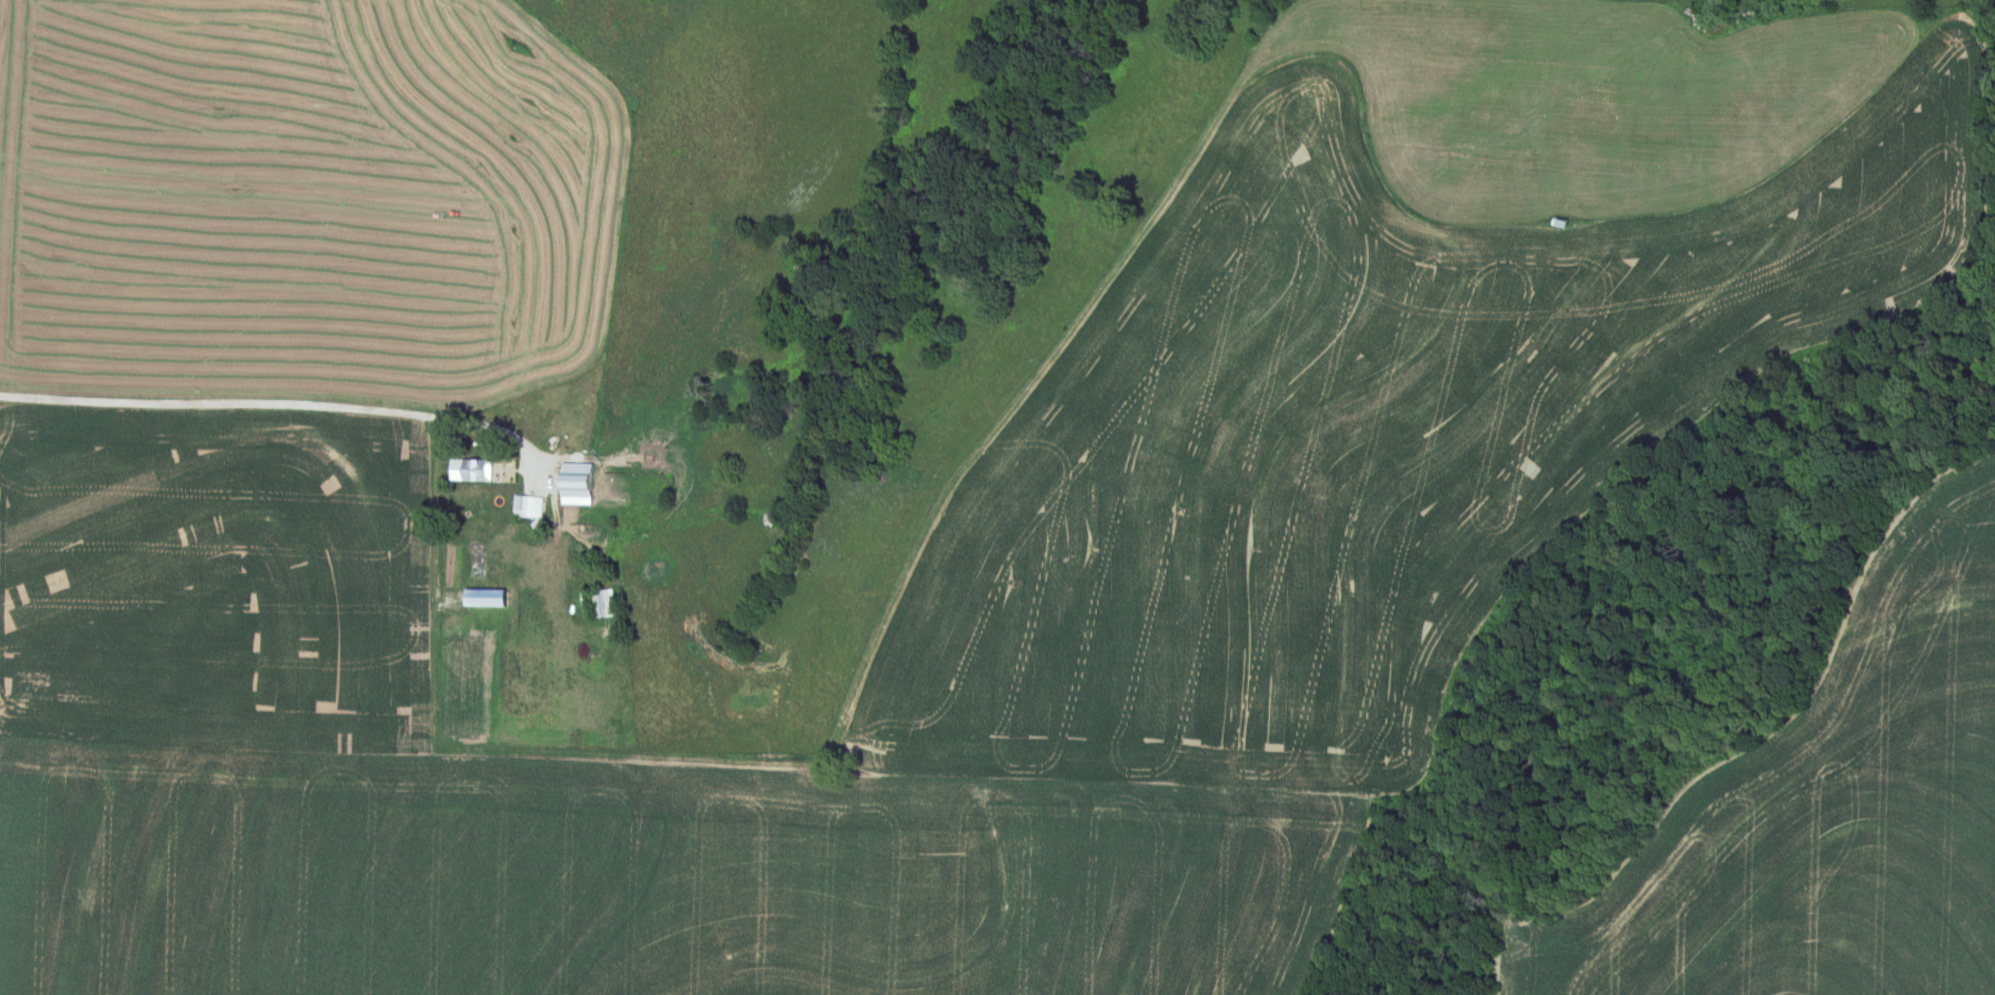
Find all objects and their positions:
road: (247, 403)
building: (468, 470)
building: (572, 484)
building: (525, 506)
building: (599, 603)

